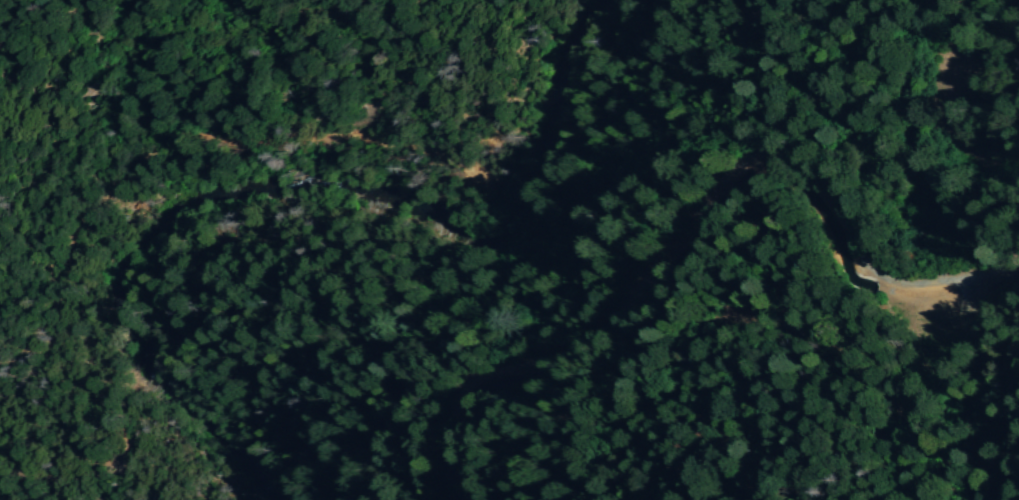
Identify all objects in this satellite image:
road: (883, 402)

